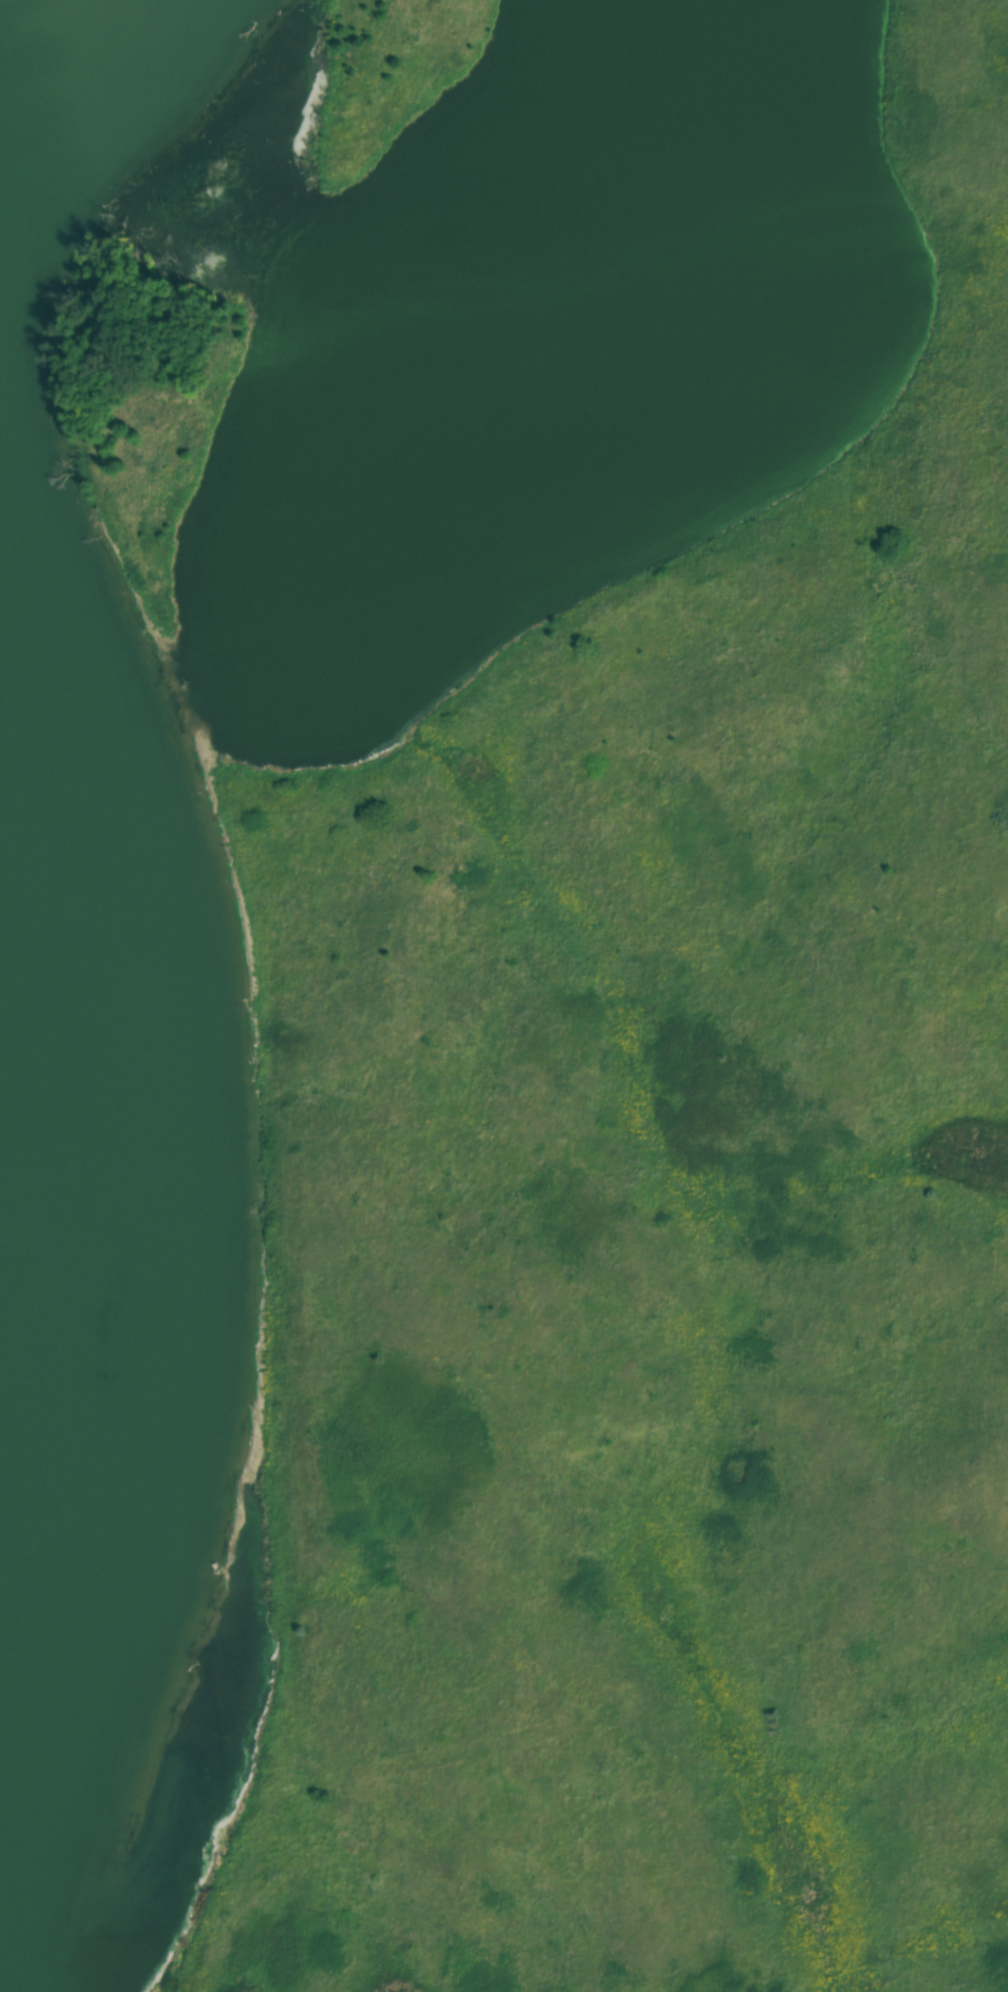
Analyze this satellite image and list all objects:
road: (309, 970)

